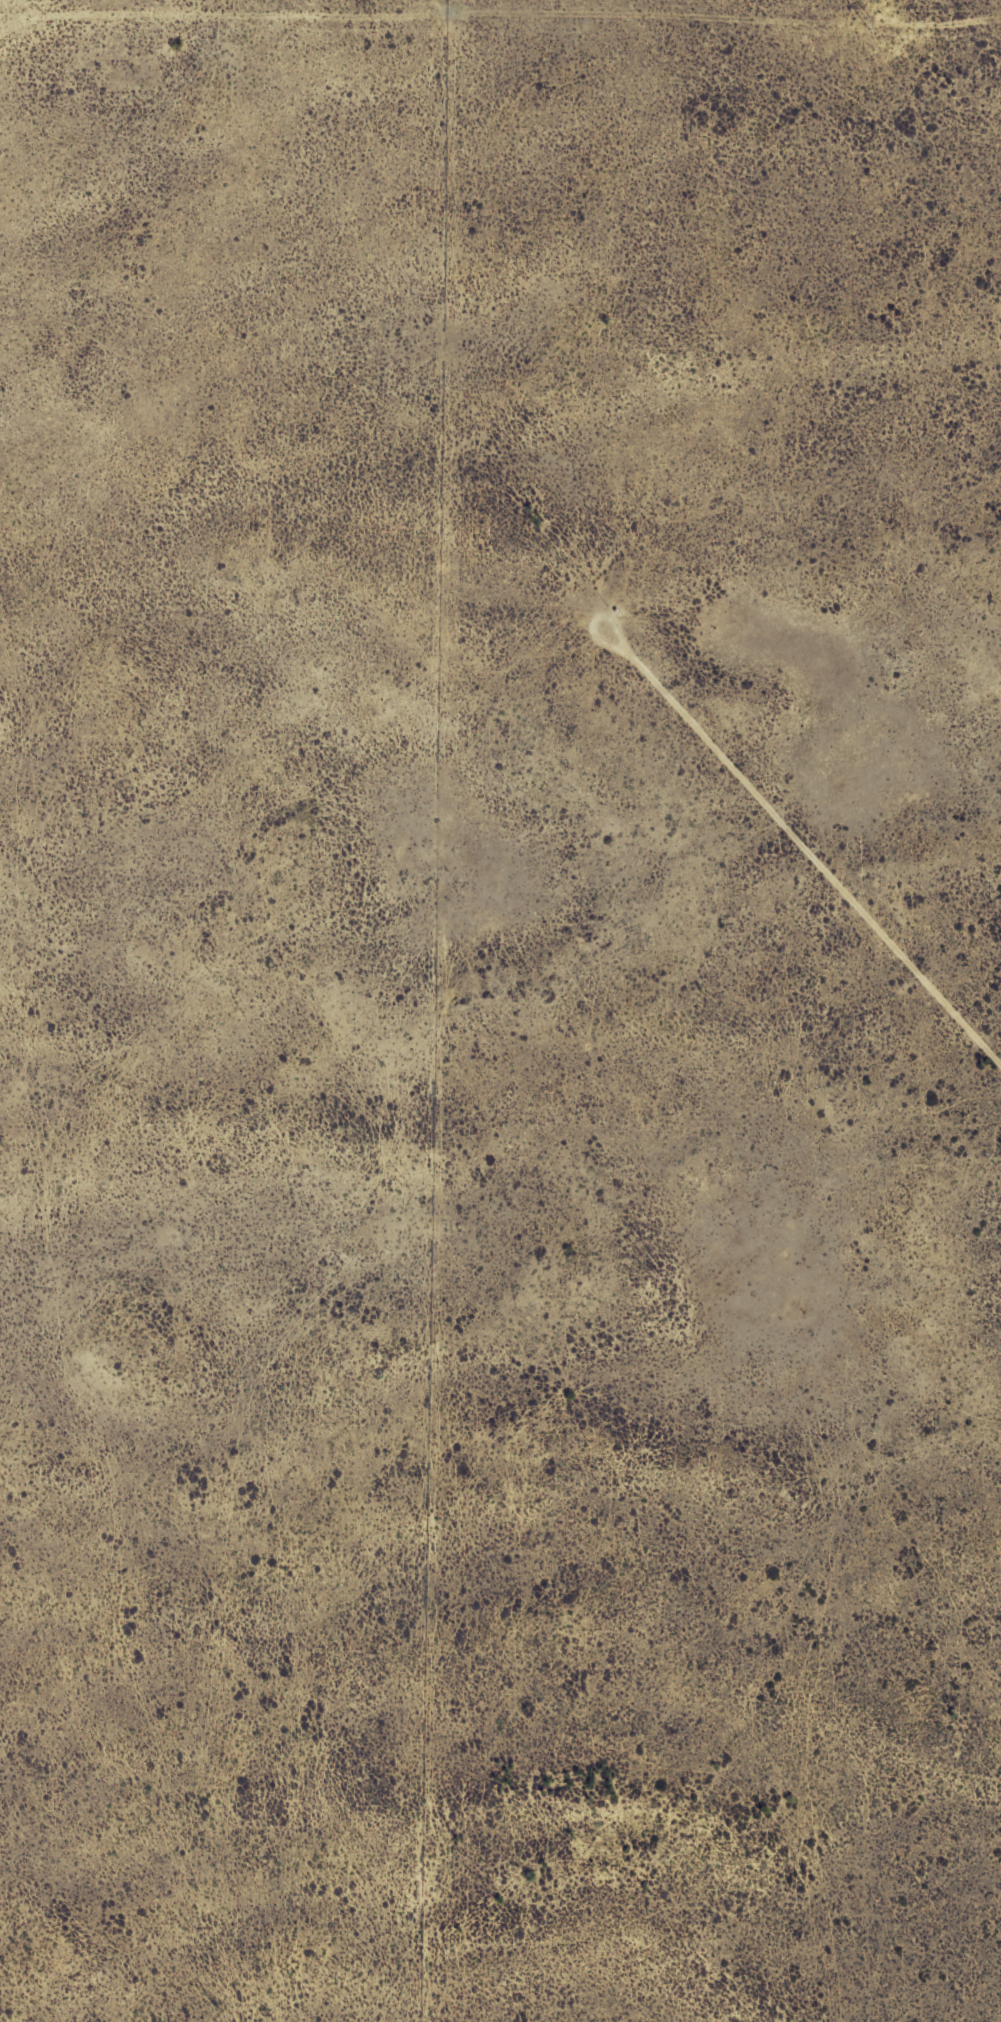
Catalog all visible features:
power tower: (369, 17)
power tower: (867, 22)
road: (831, 811)

